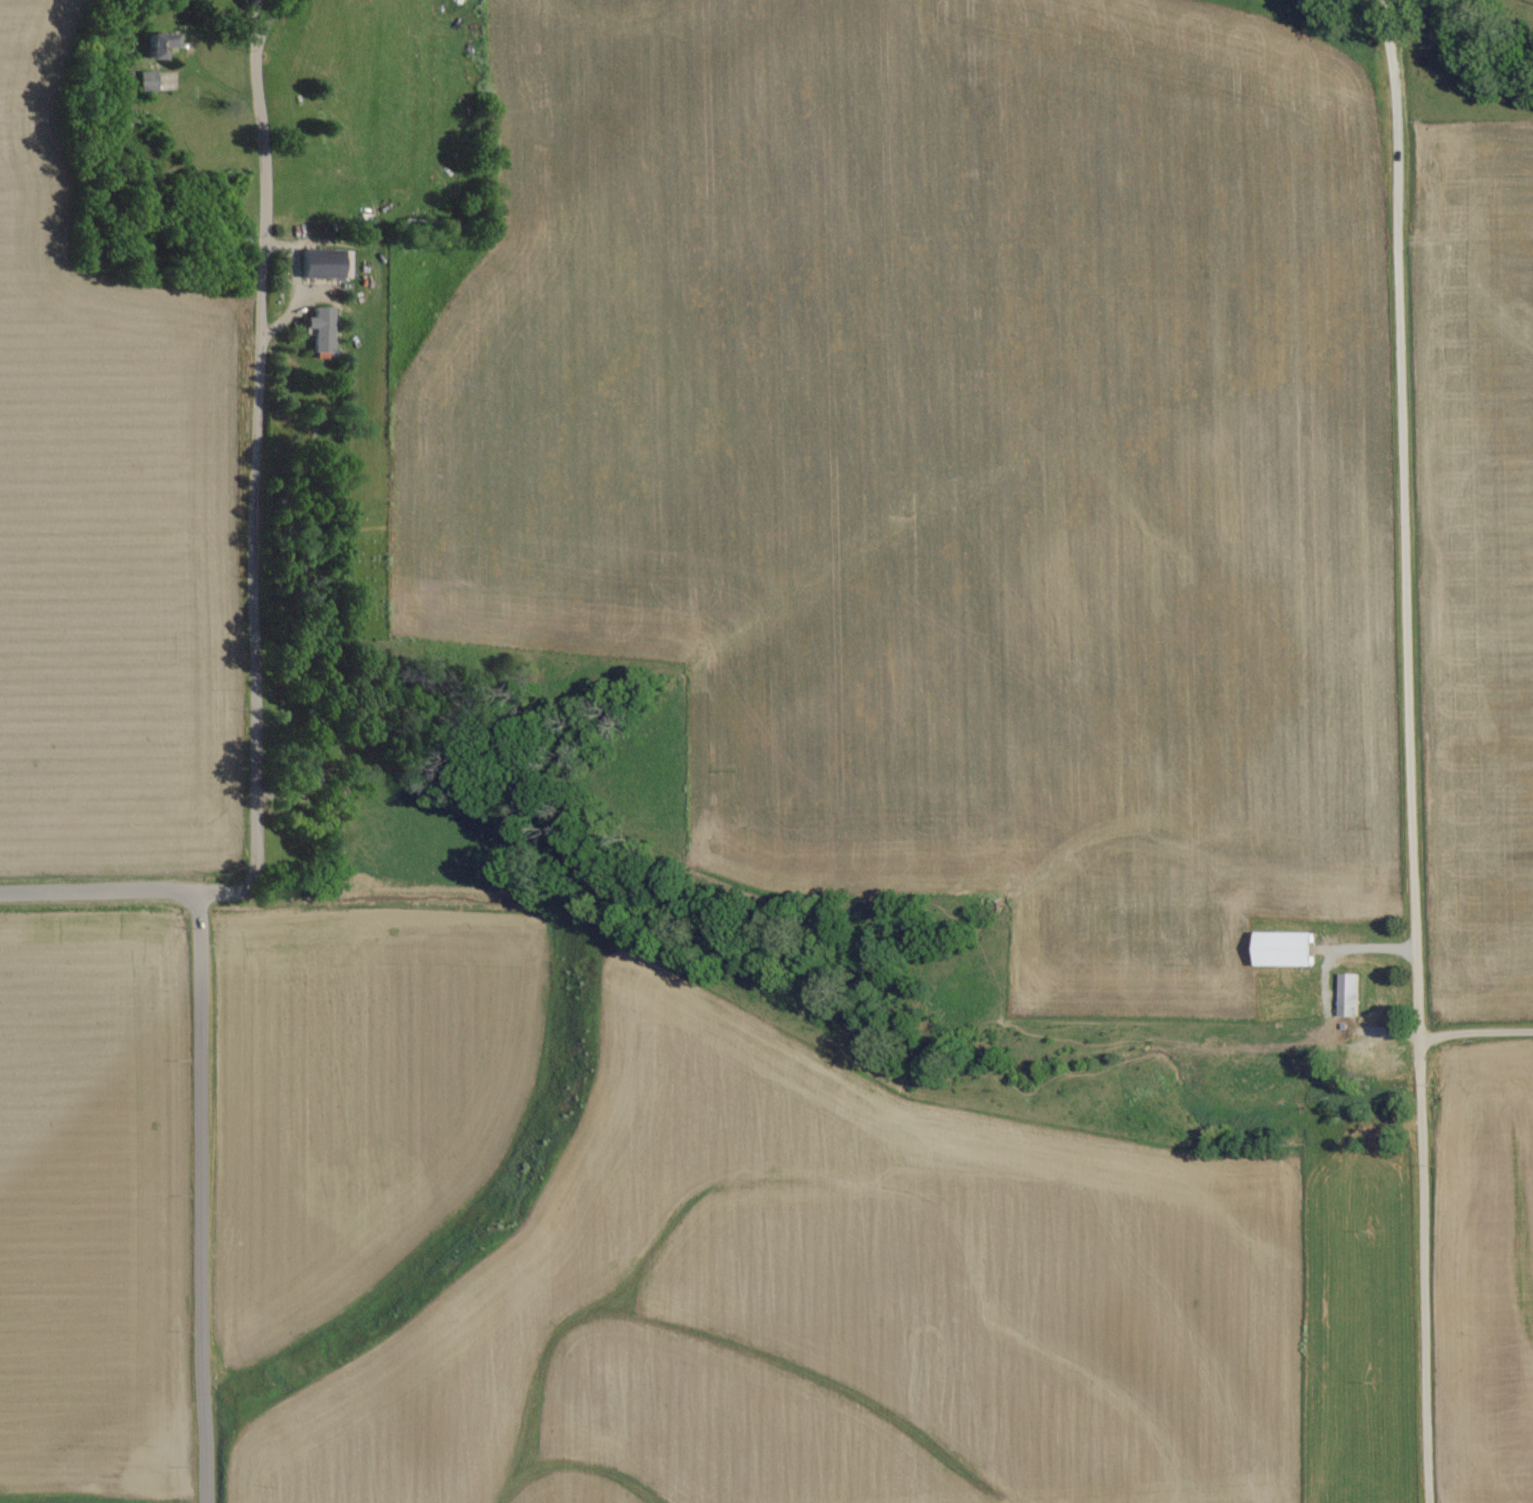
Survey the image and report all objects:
building: (158, 43)
building: (148, 81)
building: (326, 264)
building: (322, 330)
road: (1407, 751)
road: (254, 774)
road: (98, 890)
building: (1284, 949)
road: (1474, 1033)
building: (1374, 1051)

